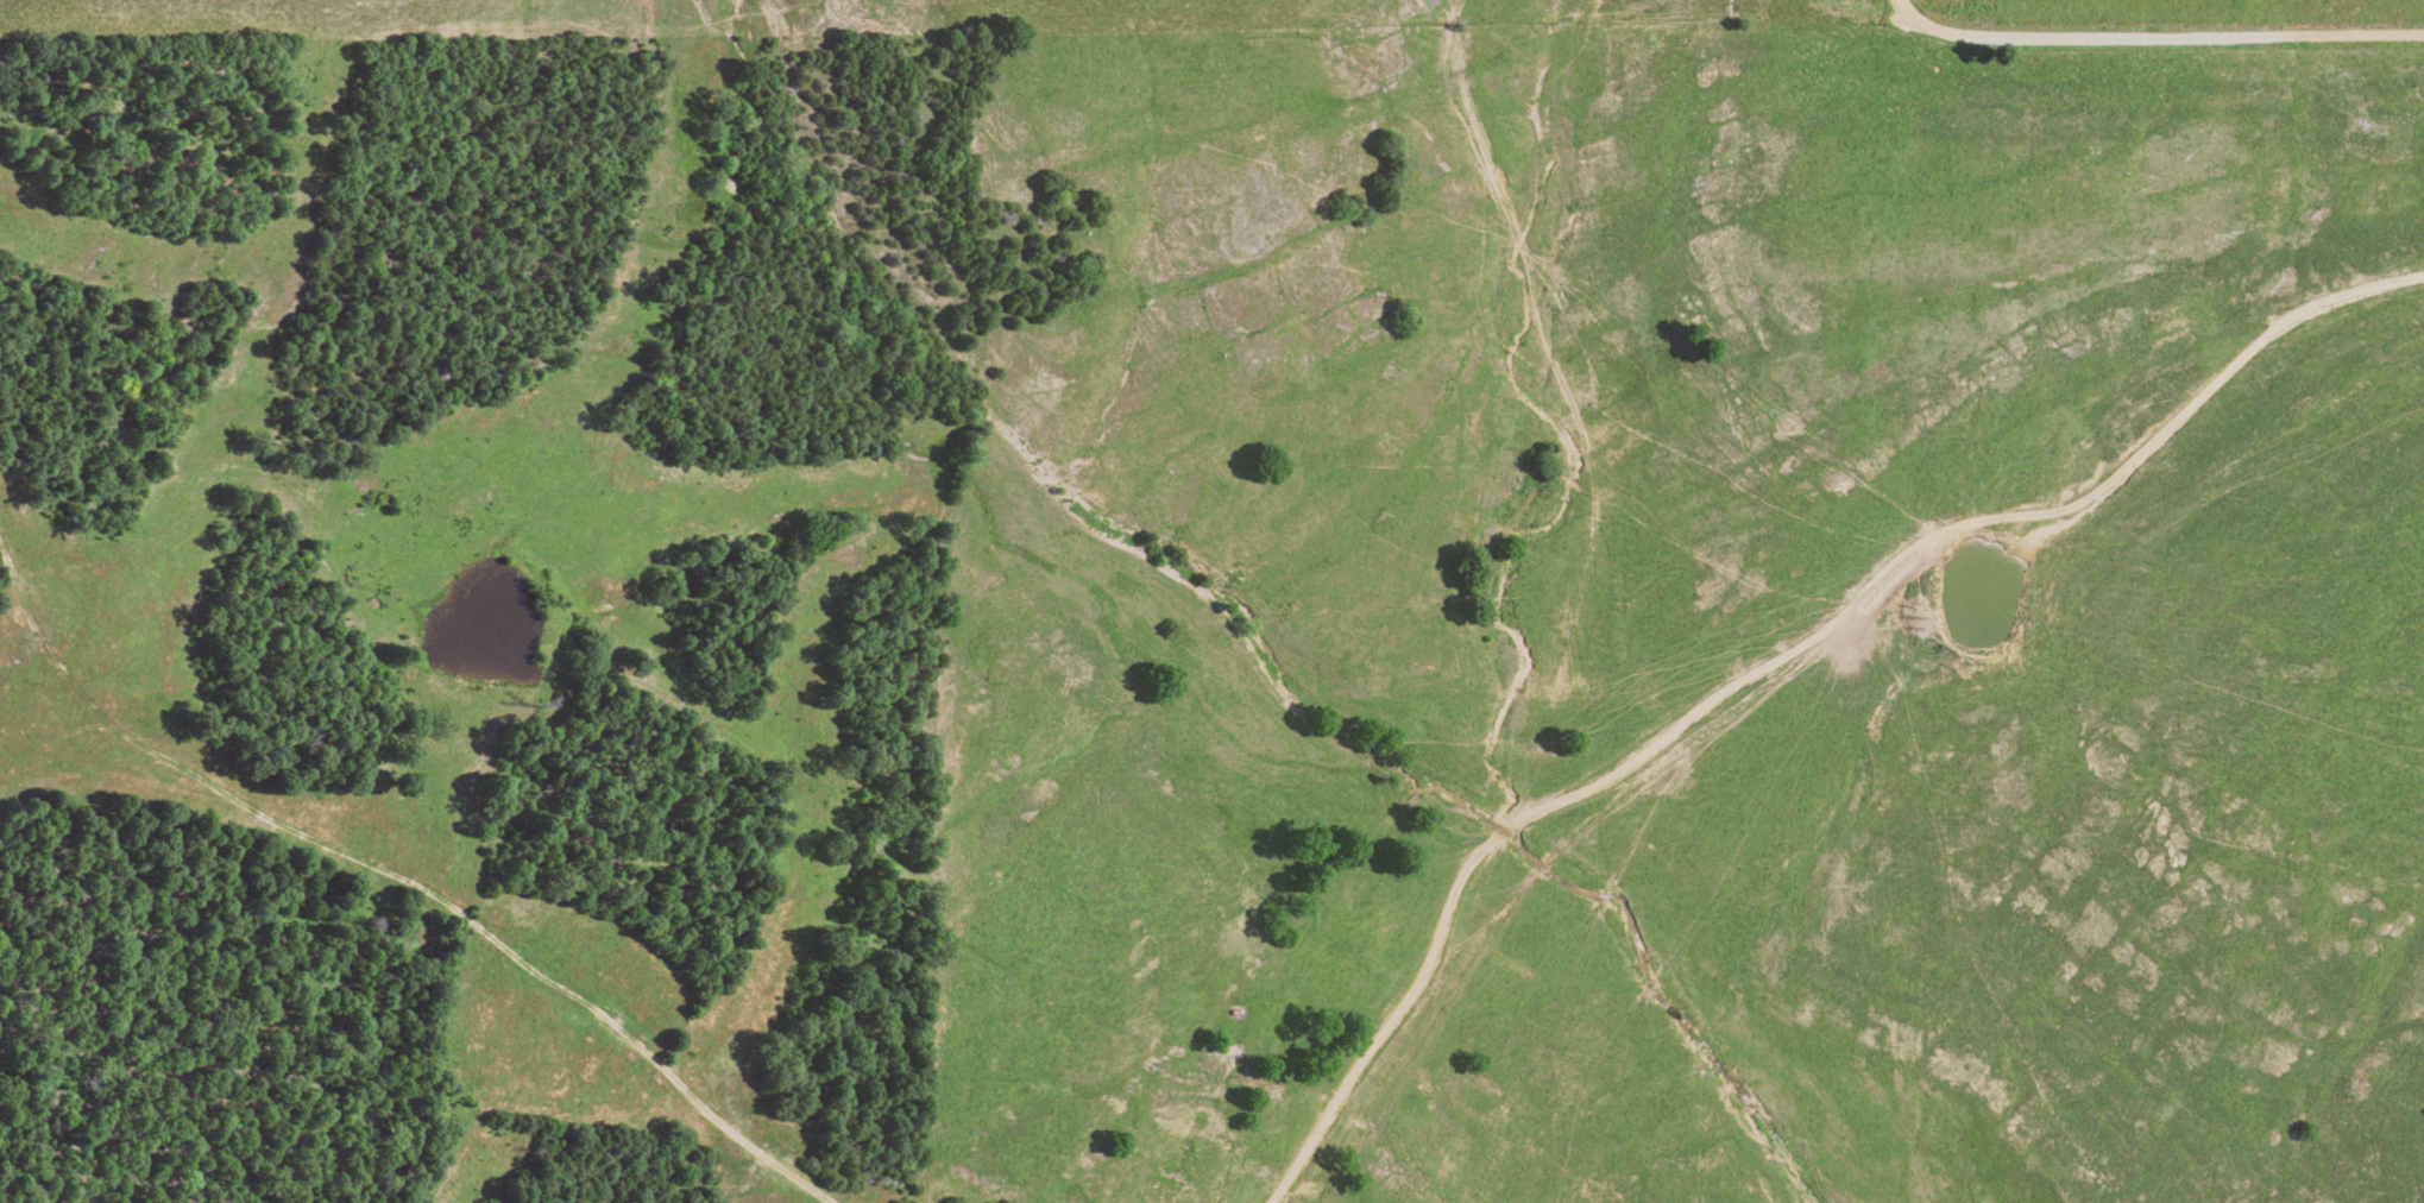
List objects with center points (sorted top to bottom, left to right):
road: (2155, 38)

